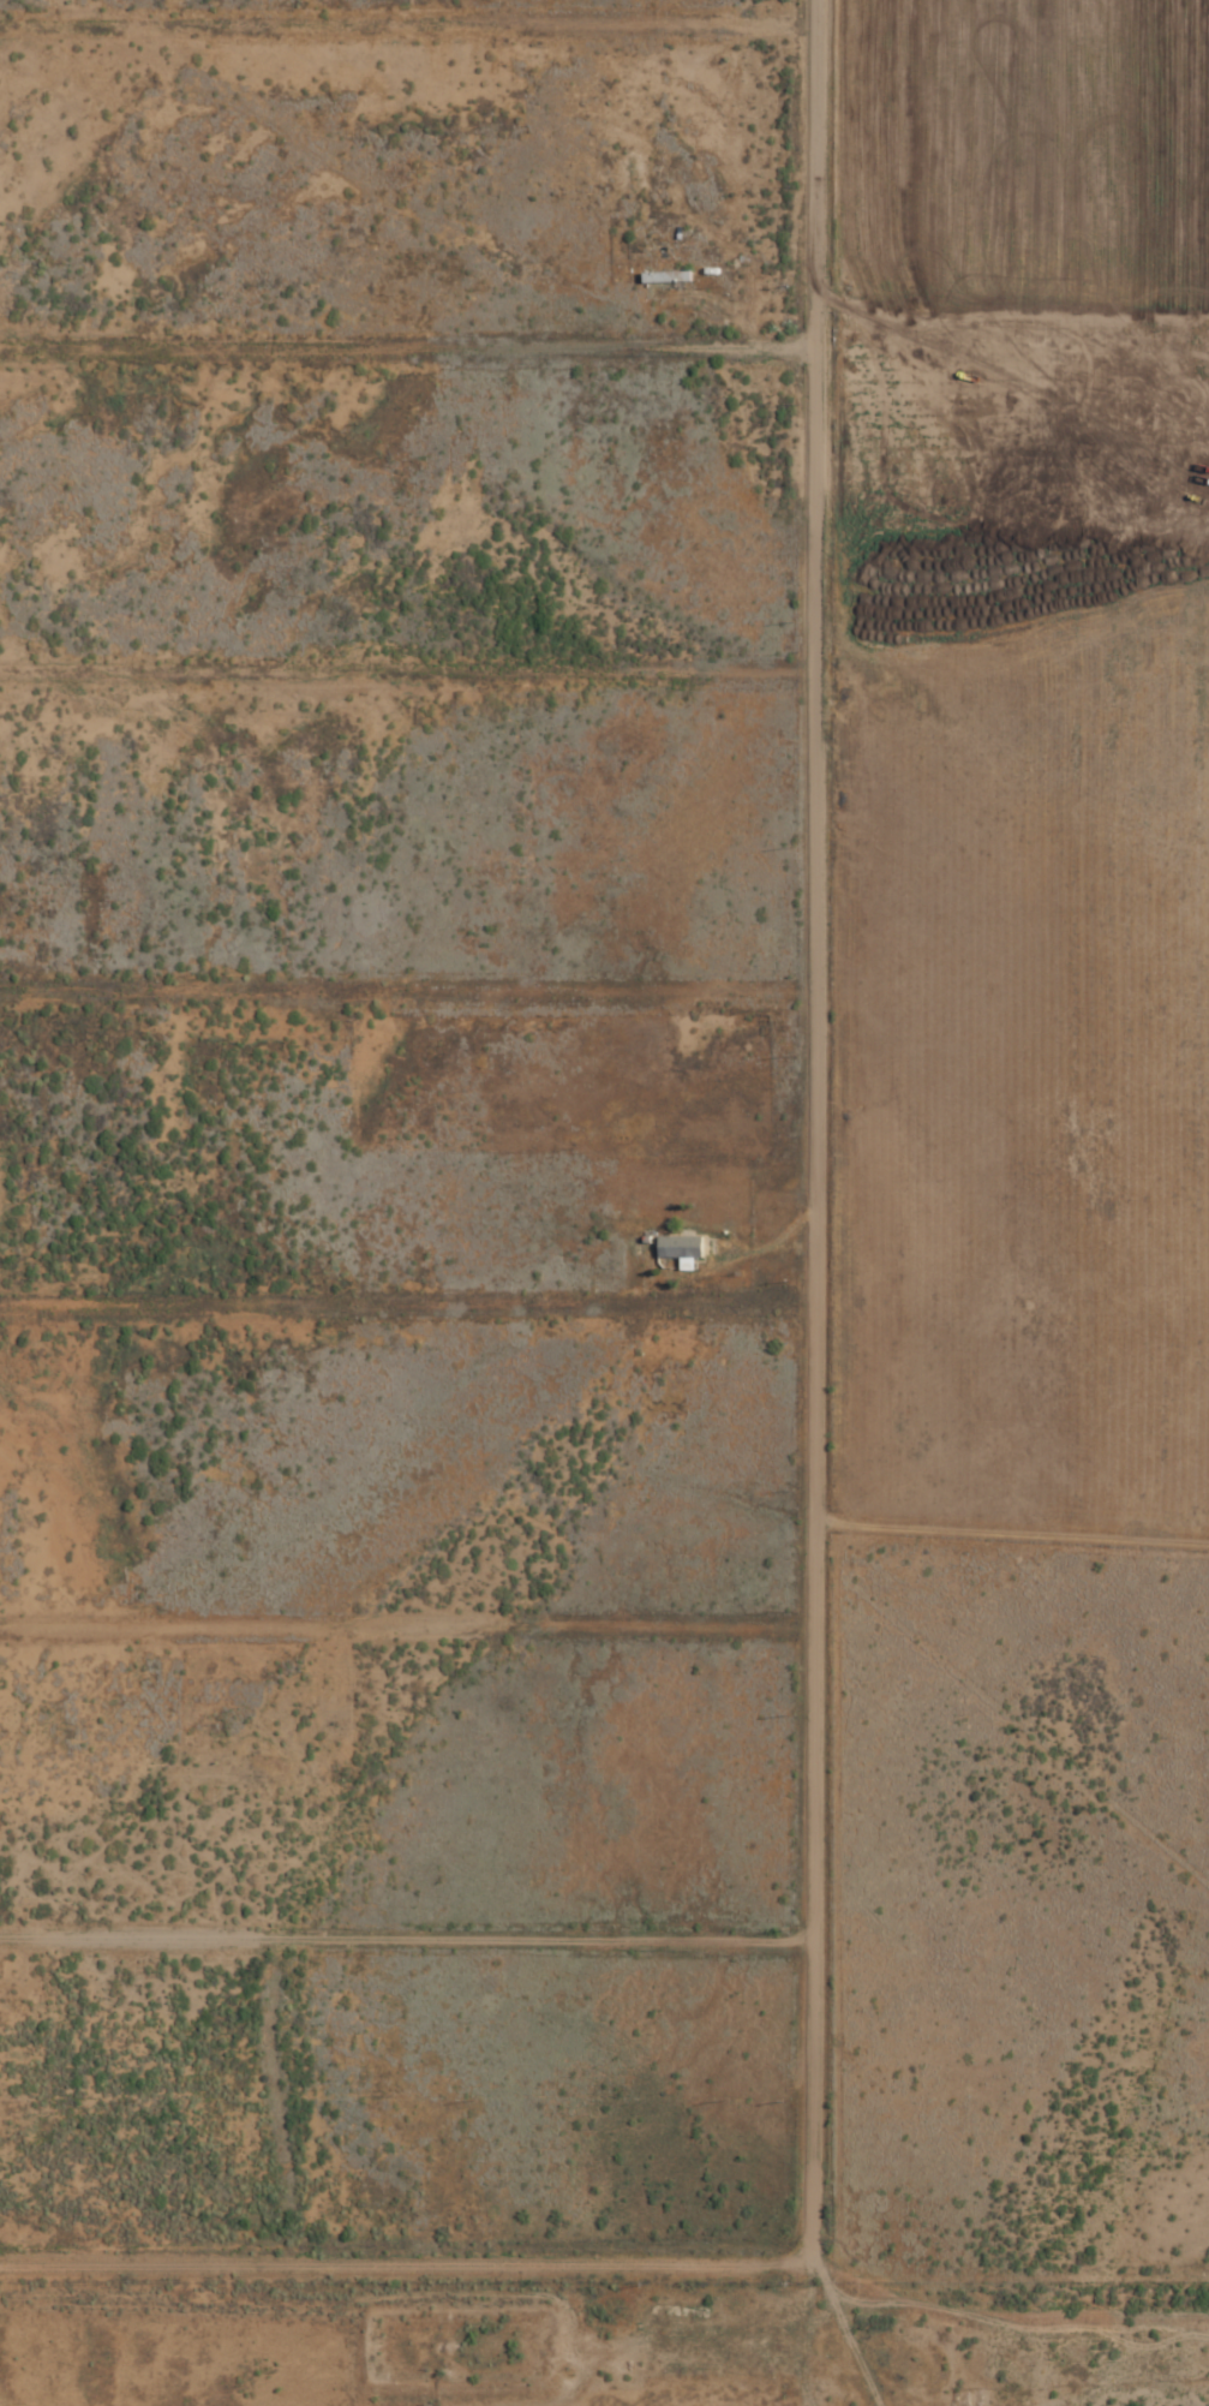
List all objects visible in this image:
road: (396, 10)
road: (396, 353)
road: (394, 682)
road: (388, 968)
road: (784, 1138)
road: (396, 1294)
road: (394, 1584)
road: (390, 1900)

